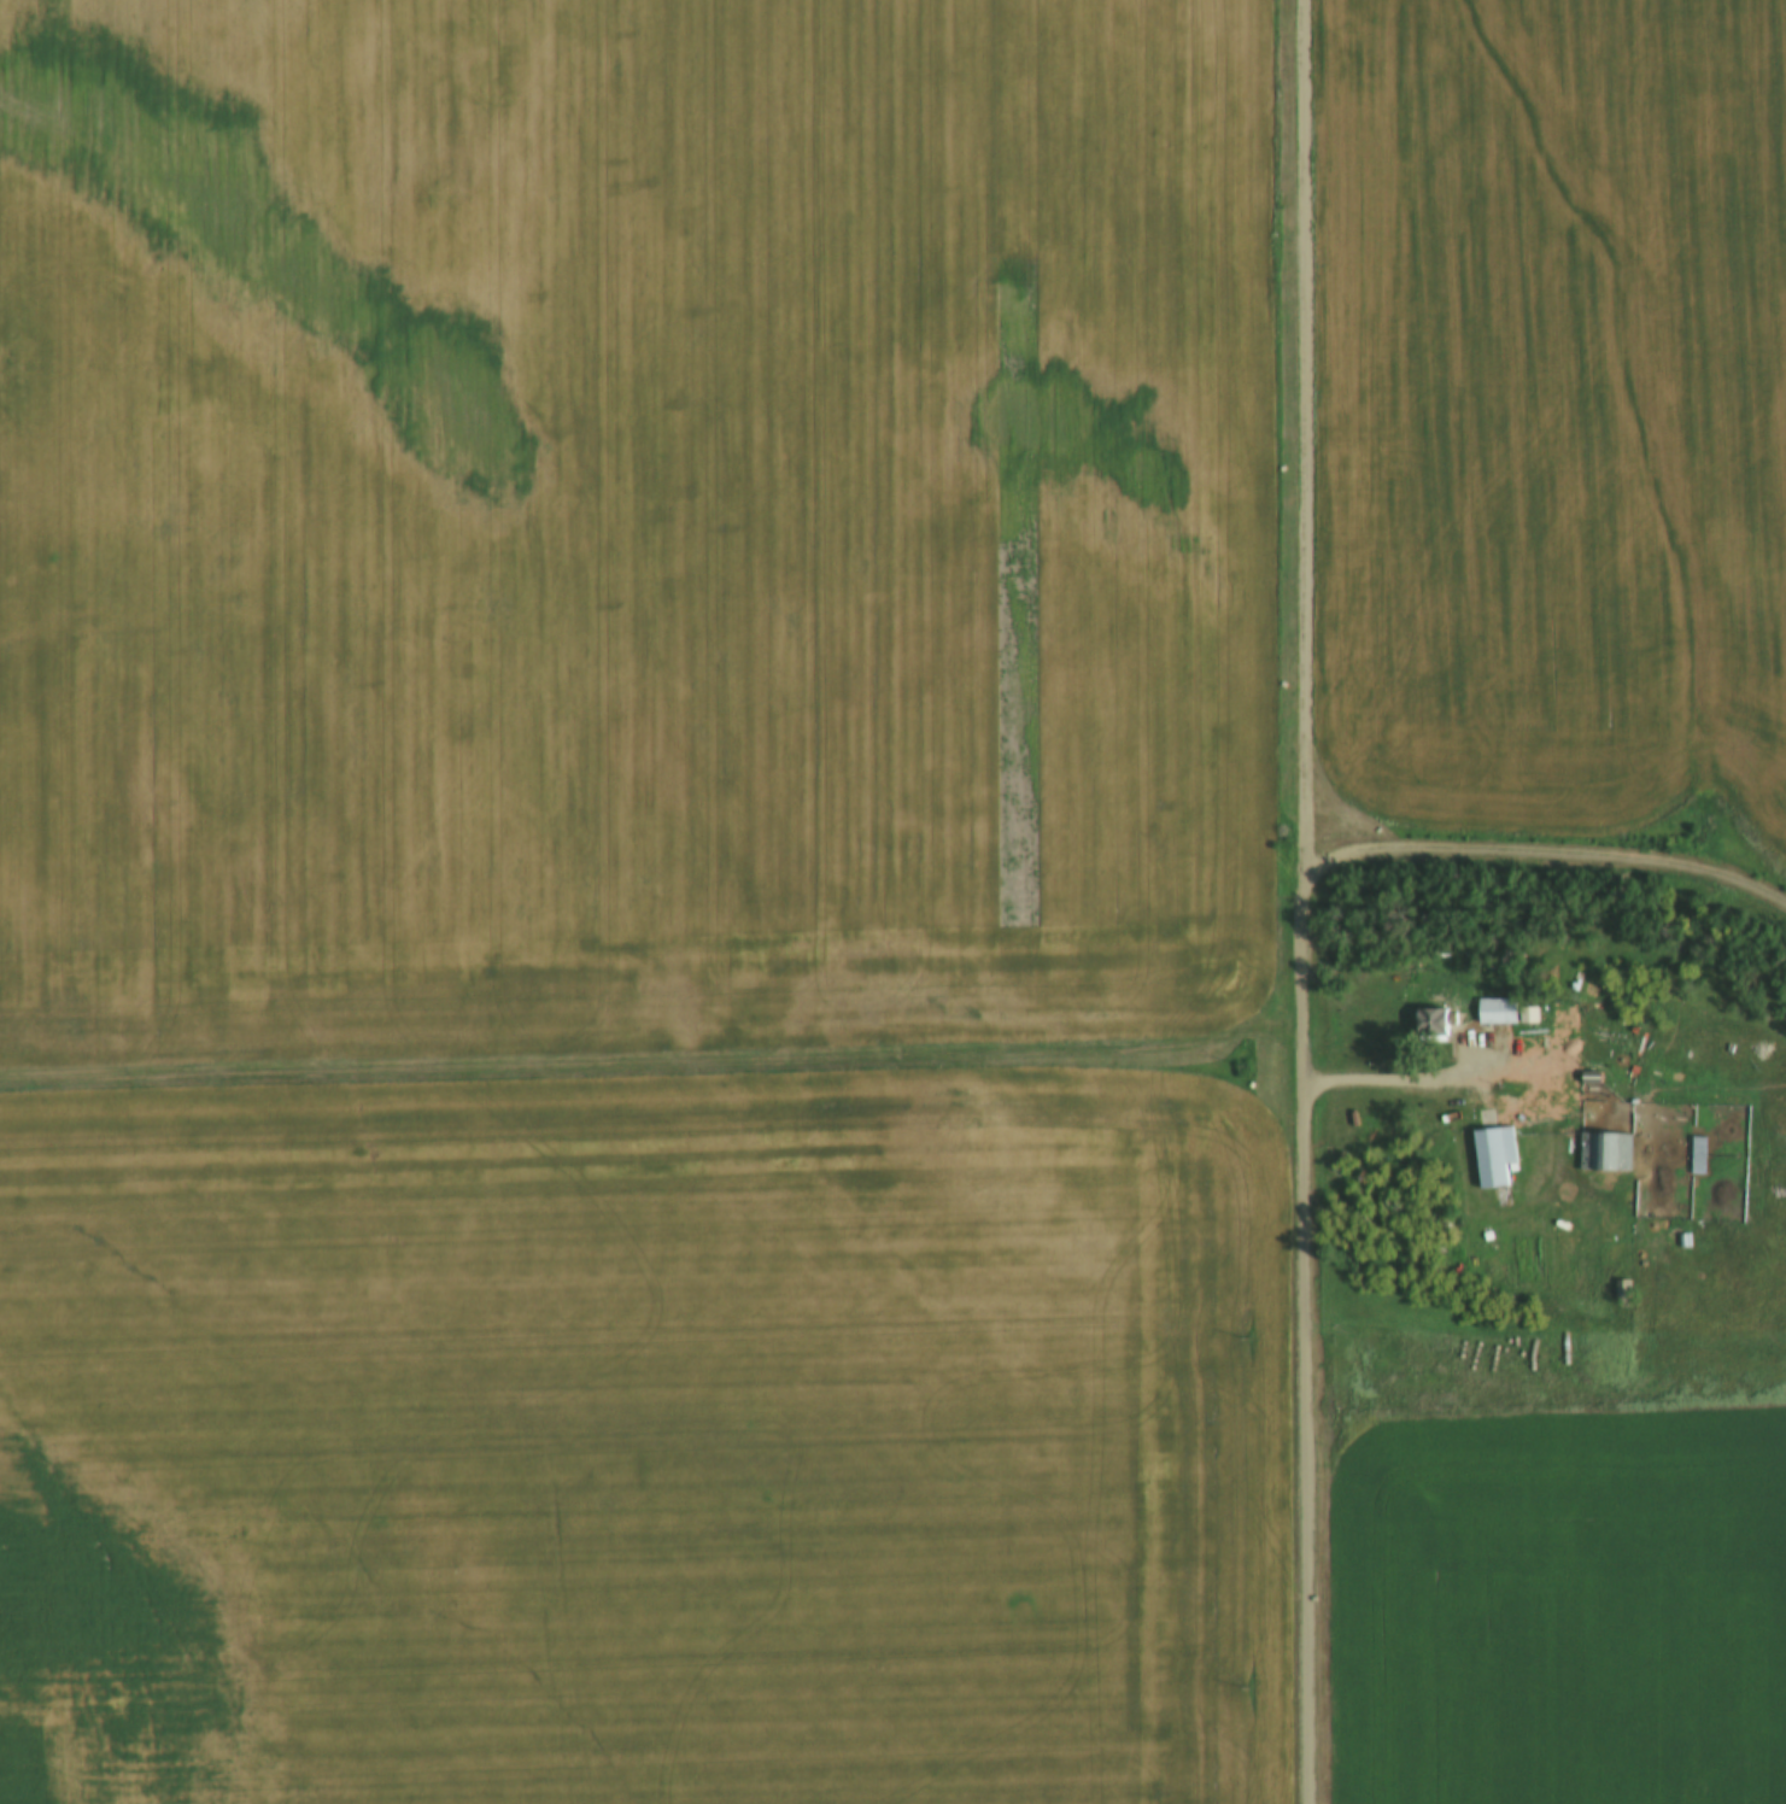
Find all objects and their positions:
road: (1308, 432)
road: (1557, 856)
road: (1302, 971)
building: (1444, 1006)
building: (1494, 1014)
road: (651, 1052)
road: (1405, 1083)
building: (1609, 1154)
building: (1764, 1154)
building: (1491, 1158)
road: (1307, 1443)

